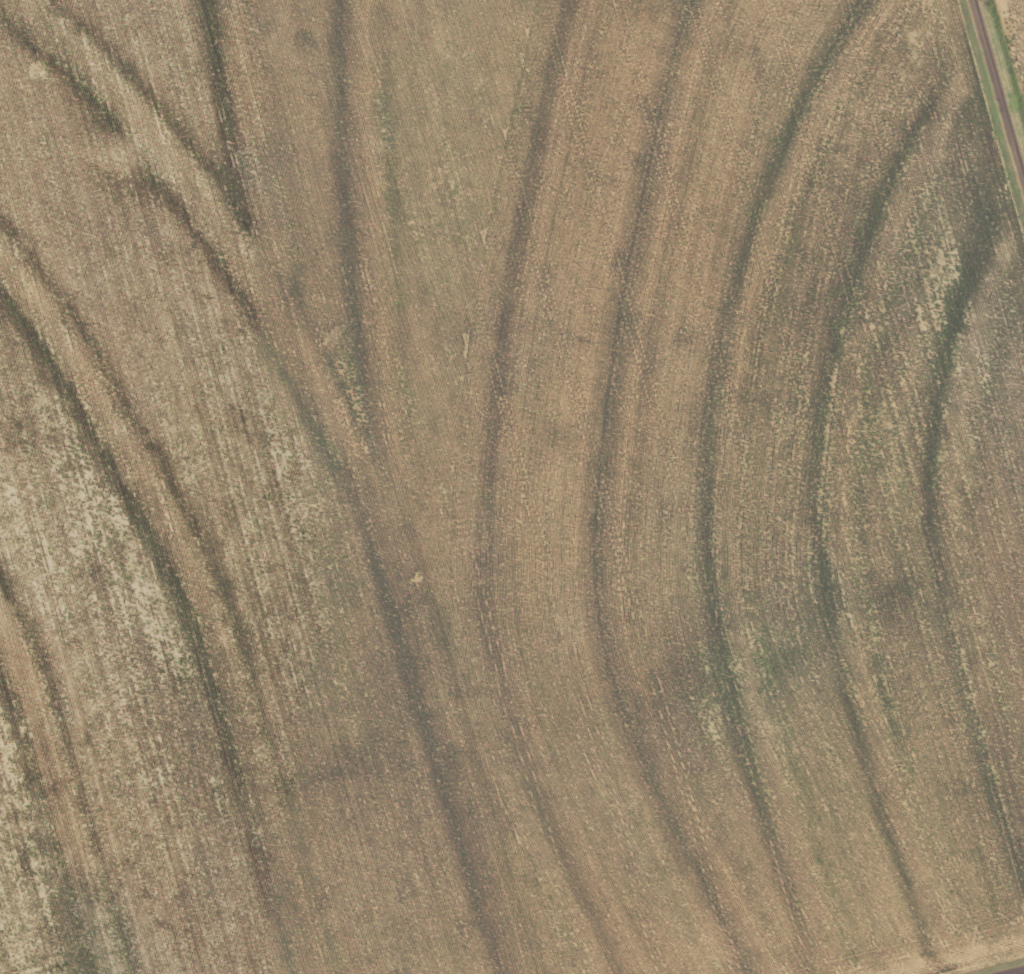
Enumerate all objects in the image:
road: (999, 87)
road: (1011, 970)

